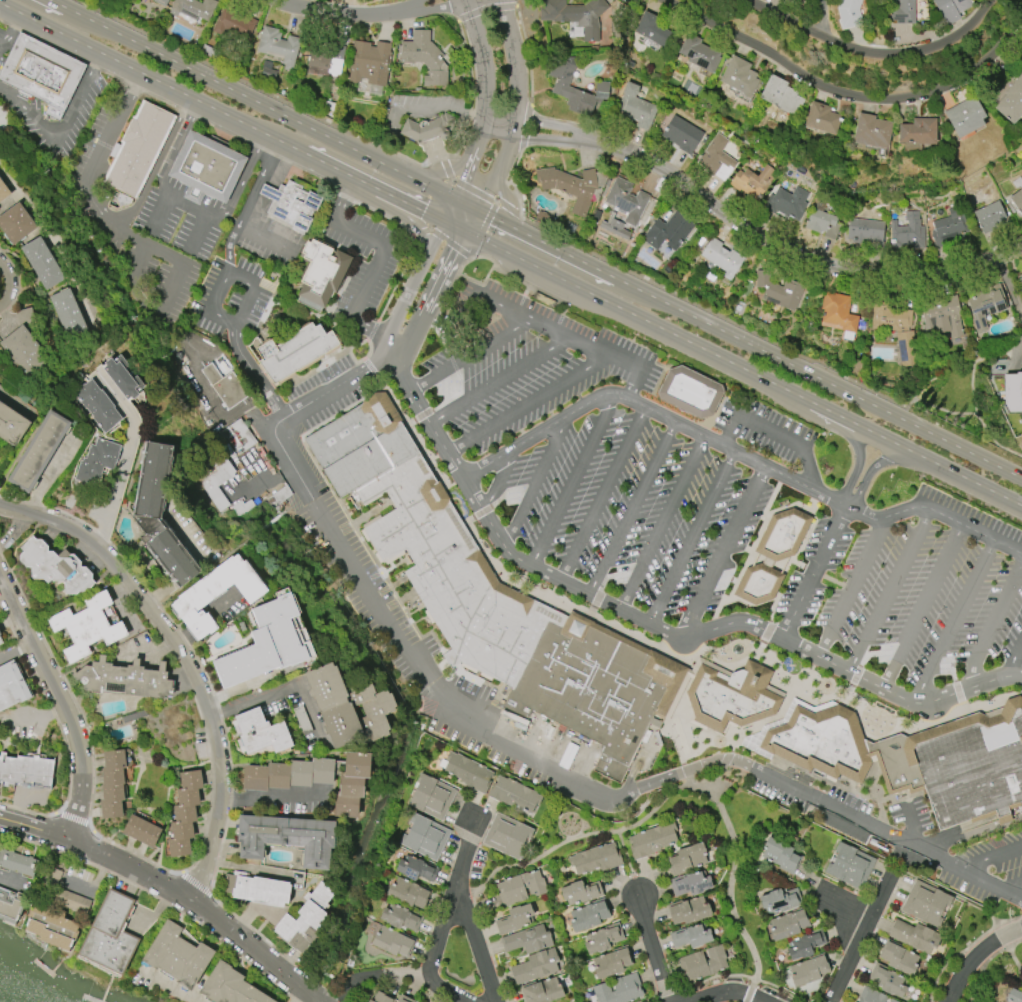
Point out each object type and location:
building: (792, 1)
building: (161, 2)
road: (412, 5)
road: (438, 8)
building: (193, 9)
building: (952, 9)
building: (903, 12)
road: (339, 13)
building: (849, 13)
building: (576, 15)
road: (824, 17)
building: (234, 24)
road: (11, 30)
building: (654, 30)
parking lot: (5, 41)
building: (278, 47)
building: (700, 53)
road: (872, 53)
building: (1020, 56)
building: (424, 57)
building: (324, 62)
building: (369, 68)
building: (41, 73)
road: (516, 73)
building: (740, 76)
building: (561, 84)
road: (259, 87)
road: (847, 94)
building: (781, 96)
road: (250, 99)
road: (483, 101)
building: (1011, 102)
road: (435, 106)
building: (636, 108)
road: (220, 112)
parking lot: (75, 116)
building: (966, 118)
building: (823, 119)
road: (65, 123)
road: (558, 125)
building: (426, 128)
building: (919, 131)
building: (873, 132)
building: (683, 135)
road: (538, 138)
building: (138, 149)
building: (717, 158)
road: (156, 165)
road: (499, 165)
building: (205, 168)
road: (446, 169)
traffic signals: (461, 180)
building: (753, 182)
road: (258, 183)
building: (575, 188)
road: (472, 190)
building: (3, 191)
building: (118, 200)
building: (1018, 201)
road: (464, 204)
building: (785, 204)
road: (93, 205)
building: (291, 205)
road: (189, 207)
building: (624, 207)
road: (509, 208)
road: (447, 210)
traffic signals: (423, 212)
road: (159, 215)
building: (991, 217)
traffic signals: (492, 218)
road: (469, 220)
building: (822, 221)
building: (15, 223)
building: (950, 227)
road: (483, 228)
road: (421, 232)
building: (909, 232)
building: (669, 233)
building: (866, 233)
road: (197, 234)
road: (265, 238)
road: (449, 243)
road: (544, 243)
road: (228, 249)
traffic signals: (454, 250)
road: (381, 254)
road: (799, 255)
road: (138, 259)
building: (721, 259)
road: (523, 260)
building: (42, 263)
parking lot: (361, 263)
building: (320, 273)
road: (226, 277)
building: (1020, 278)
road: (11, 285)
road: (410, 287)
building: (779, 291)
road: (430, 298)
building: (543, 300)
road: (474, 301)
building: (990, 304)
building: (68, 315)
building: (840, 315)
building: (943, 316)
building: (896, 329)
building: (24, 345)
building: (294, 351)
road: (599, 351)
road: (470, 356)
parking lot: (521, 363)
road: (251, 371)
building: (122, 378)
road: (817, 378)
road: (498, 380)
building: (224, 386)
building: (689, 392)
building: (1013, 392)
parking lot: (326, 393)
road: (17, 401)
road: (812, 403)
road: (528, 404)
building: (97, 405)
road: (651, 410)
building: (12, 425)
parking lot: (763, 427)
road: (775, 434)
building: (38, 451)
road: (127, 454)
building: (96, 460)
road: (858, 462)
road: (257, 468)
road: (872, 469)
road: (498, 480)
road: (535, 480)
road: (573, 480)
road: (270, 481)
building: (215, 482)
road: (602, 493)
building: (279, 496)
building: (243, 507)
road: (631, 508)
parking lot: (634, 511)
building: (159, 515)
road: (875, 519)
road: (661, 523)
road: (965, 526)
road: (691, 537)
road: (723, 551)
building: (771, 556)
road: (217, 562)
building: (55, 566)
road: (812, 572)
road: (851, 587)
road: (889, 590)
building: (217, 594)
parking lot: (911, 594)
road: (921, 606)
building: (519, 609)
road: (953, 622)
road: (992, 623)
road: (654, 626)
building: (86, 627)
building: (268, 642)
building: (0, 644)
road: (16, 649)
road: (1013, 660)
road: (187, 661)
building: (125, 679)
building: (11, 686)
road: (288, 689)
road: (62, 704)
building: (348, 707)
road: (39, 716)
building: (259, 732)
road: (519, 753)
road: (730, 753)
building: (911, 757)
road: (725, 760)
building: (26, 769)
building: (467, 772)
road: (685, 774)
building: (289, 775)
building: (112, 784)
building: (351, 785)
road: (703, 791)
building: (514, 795)
building: (431, 797)
road: (275, 799)
building: (185, 813)
road: (912, 823)
road: (33, 828)
building: (141, 830)
building: (508, 836)
road: (581, 836)
building: (425, 837)
parking lot: (904, 837)
building: (287, 838)
building: (652, 840)
road: (466, 847)
building: (780, 854)
road: (989, 857)
building: (596, 859)
building: (687, 859)
building: (17, 863)
road: (243, 867)
building: (850, 867)
road: (129, 868)
building: (415, 868)
road: (730, 880)
building: (691, 884)
road: (11, 885)
road: (1012, 887)
building: (521, 888)
building: (257, 890)
building: (581, 892)
building: (408, 893)
building: (781, 900)
building: (71, 901)
building: (926, 903)
road: (841, 905)
building: (9, 906)
building: (689, 911)
building: (589, 915)
building: (400, 918)
building: (514, 919)
building: (305, 920)
building: (788, 925)
building: (52, 928)
building: (110, 935)
road: (860, 935)
building: (915, 936)
building: (692, 937)
road: (474, 938)
building: (604, 939)
building: (528, 940)
building: (392, 942)
building: (806, 945)
road: (434, 947)
road: (652, 949)
road: (255, 952)
building: (177, 956)
road: (976, 956)
building: (899, 958)
building: (612, 963)
building: (703, 963)
building: (536, 967)
building: (809, 970)
road: (377, 973)
building: (887, 980)
road: (172, 987)
building: (230, 987)
building: (620, 989)
building: (543, 991)
road: (728, 993)
building: (871, 995)
road: (299, 996)
building: (1014, 996)
building: (382, 998)
building: (404, 999)
building: (368, 1001)
building: (892, 1001)

